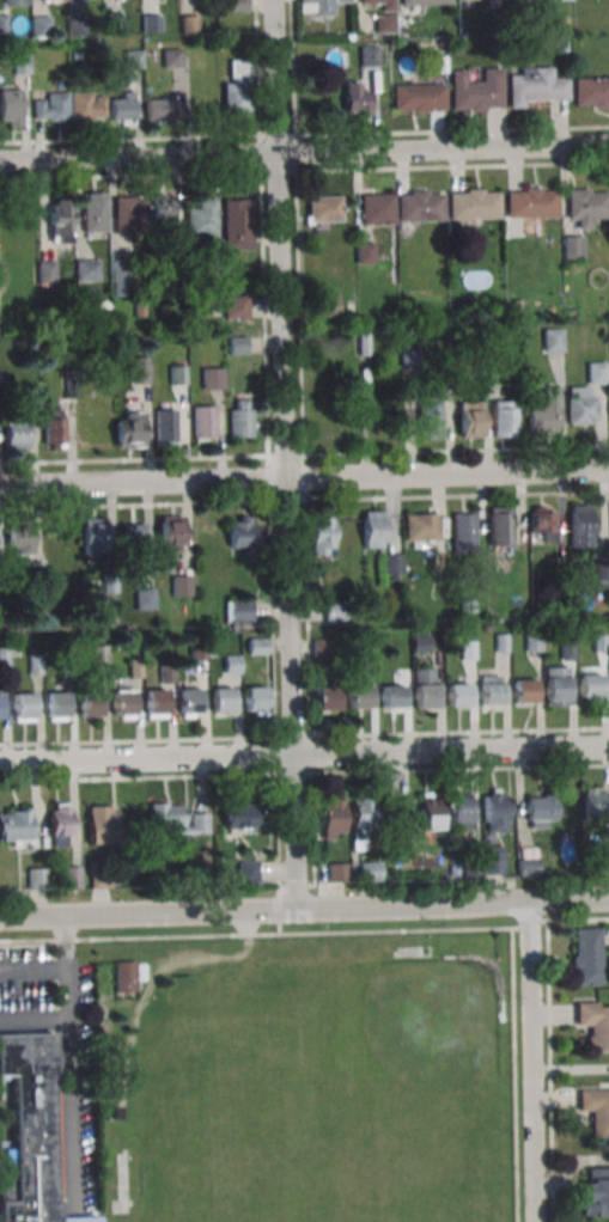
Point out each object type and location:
building: (51, 0)
building: (487, 0)
building: (536, 0)
building: (14, 2)
building: (422, 2)
building: (379, 4)
building: (237, 5)
building: (321, 6)
building: (151, 22)
building: (2, 23)
building: (114, 23)
building: (189, 23)
building: (384, 23)
building: (39, 25)
building: (77, 28)
building: (561, 48)
building: (367, 54)
building: (495, 54)
building: (75, 56)
building: (133, 57)
building: (171, 57)
building: (20, 62)
building: (440, 63)
building: (535, 85)
building: (237, 88)
building: (475, 90)
building: (591, 91)
building: (418, 97)
building: (355, 98)
building: (10, 106)
building: (85, 106)
building: (163, 106)
building: (51, 108)
building: (121, 108)
road: (304, 134)
road: (304, 152)
road: (304, 170)
building: (530, 202)
building: (473, 204)
building: (586, 204)
building: (419, 206)
building: (324, 208)
building: (376, 209)
building: (93, 212)
building: (128, 214)
building: (160, 214)
building: (201, 218)
building: (60, 220)
building: (237, 224)
building: (573, 245)
building: (365, 252)
building: (213, 265)
building: (86, 269)
building: (45, 271)
building: (177, 271)
building: (120, 277)
building: (327, 304)
building: (236, 306)
building: (140, 310)
building: (553, 338)
building: (238, 344)
building: (409, 354)
building: (140, 369)
building: (597, 372)
building: (178, 374)
building: (213, 378)
building: (71, 386)
building: (579, 405)
building: (543, 409)
building: (240, 417)
building: (430, 417)
building: (470, 418)
building: (503, 418)
building: (205, 421)
building: (165, 424)
building: (54, 427)
building: (129, 428)
building: (16, 435)
road: (303, 442)
road: (267, 447)
road: (285, 454)
road: (304, 454)
road: (304, 477)
road: (304, 499)
building: (541, 520)
building: (420, 525)
building: (499, 525)
building: (580, 525)
building: (373, 528)
building: (463, 531)
building: (245, 532)
building: (171, 533)
building: (18, 536)
building: (95, 536)
building: (321, 536)
building: (133, 538)
building: (392, 563)
building: (602, 573)
building: (109, 580)
building: (182, 585)
building: (2, 586)
building: (42, 587)
building: (145, 598)
building: (467, 605)
building: (238, 610)
building: (335, 610)
building: (487, 627)
building: (534, 641)
building: (501, 642)
building: (599, 642)
building: (421, 643)
building: (256, 646)
building: (319, 647)
building: (369, 647)
building: (200, 649)
building: (467, 649)
building: (567, 650)
building: (99, 655)
building: (2, 656)
building: (35, 664)
building: (231, 664)
building: (68, 668)
building: (134, 668)
building: (164, 673)
building: (590, 684)
building: (555, 685)
building: (425, 686)
building: (491, 689)
building: (523, 690)
building: (325, 691)
building: (359, 691)
building: (457, 694)
building: (391, 695)
building: (221, 698)
building: (254, 698)
building: (188, 699)
building: (156, 701)
building: (122, 702)
building: (56, 703)
building: (90, 703)
building: (23, 704)
building: (0, 707)
road: (304, 735)
road: (304, 754)
road: (304, 774)
building: (592, 804)
building: (431, 811)
building: (495, 811)
building: (540, 811)
building: (461, 812)
building: (240, 814)
building: (397, 814)
building: (333, 818)
building: (176, 819)
building: (360, 823)
building: (60, 824)
building: (102, 824)
building: (16, 826)
building: (602, 862)
building: (493, 863)
building: (528, 866)
building: (246, 870)
building: (370, 870)
building: (471, 870)
building: (337, 872)
building: (97, 875)
building: (37, 876)
building: (73, 876)
road: (296, 886)
road: (304, 909)
road: (279, 914)
road: (248, 931)
road: (304, 931)
parking lot: (244, 953)
road: (250, 953)
building: (585, 955)
road: (63, 965)
building: (126, 974)
road: (32, 1015)
building: (595, 1024)
road: (129, 1035)
park: (406, 1050)
road: (531, 1062)
road: (549, 1070)
road: (513, 1075)
park: (305, 1079)
building: (596, 1108)
building: (109, 1112)
road: (67, 1118)
building: (28, 1130)
building: (596, 1191)
park: (439, 1200)

